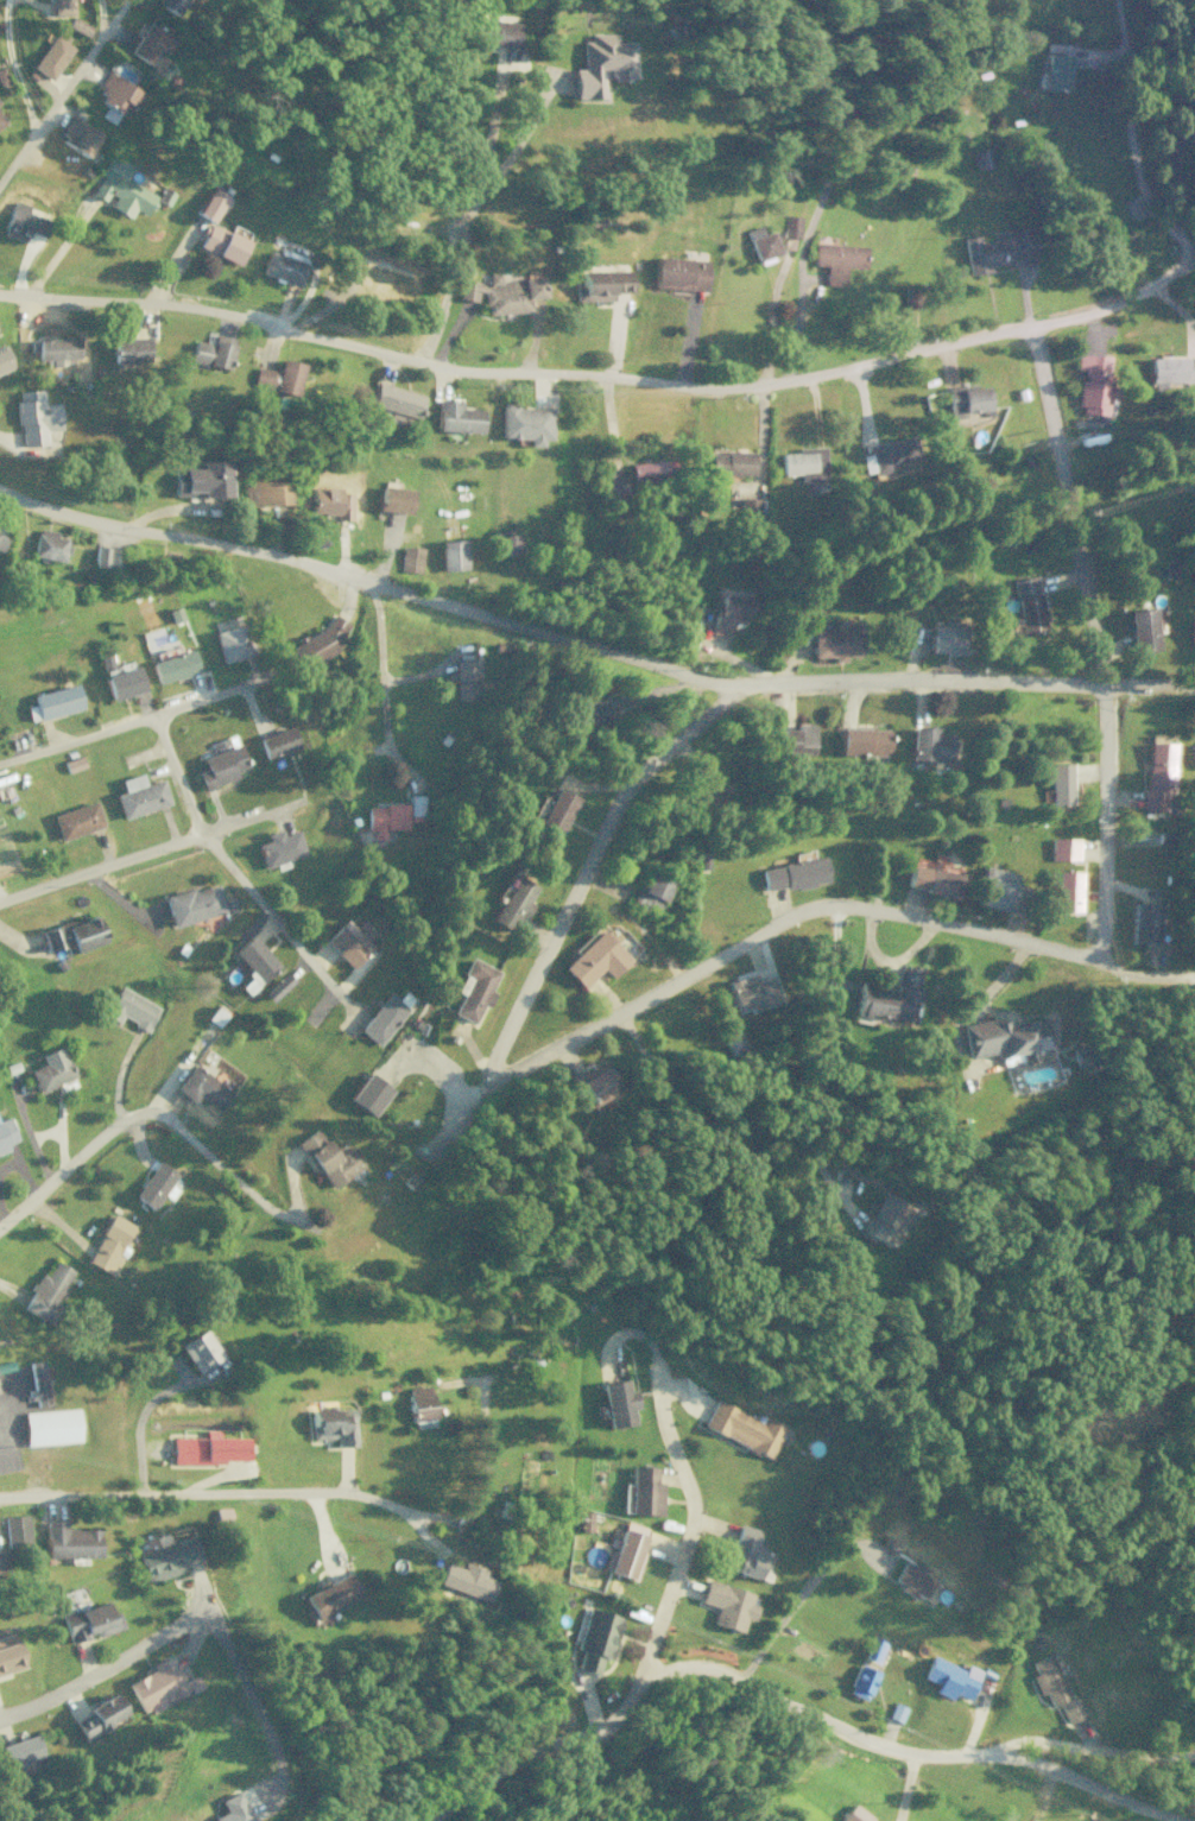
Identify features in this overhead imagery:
building: (170, 4)
building: (61, 7)
road: (100, 13)
building: (78, 26)
building: (495, 32)
building: (148, 43)
building: (51, 56)
building: (602, 64)
road: (10, 67)
building: (1054, 71)
building: (170, 81)
road: (62, 87)
building: (1187, 88)
building: (116, 93)
building: (1, 120)
building: (77, 135)
road: (1127, 139)
building: (120, 189)
building: (210, 204)
road: (466, 214)
building: (23, 222)
building: (790, 226)
building: (223, 242)
building: (760, 242)
building: (998, 248)
building: (836, 259)
road: (1189, 261)
building: (284, 266)
building: (678, 273)
building: (386, 282)
building: (601, 284)
building: (501, 292)
building: (53, 349)
building: (129, 349)
building: (213, 350)
building: (4, 360)
building: (1170, 368)
building: (278, 377)
building: (1093, 382)
road: (597, 384)
building: (962, 396)
building: (396, 403)
building: (34, 417)
building: (455, 417)
building: (525, 423)
building: (886, 454)
building: (732, 462)
building: (804, 463)
building: (655, 470)
building: (201, 480)
building: (261, 492)
building: (393, 499)
building: (615, 499)
building: (330, 501)
building: (750, 508)
building: (2, 538)
building: (506, 543)
building: (49, 545)
building: (451, 554)
building: (106, 557)
building: (410, 558)
building: (1026, 605)
building: (727, 608)
building: (1142, 630)
building: (1191, 633)
building: (944, 639)
road: (1093, 639)
building: (836, 640)
building: (233, 643)
road: (589, 645)
building: (173, 666)
building: (464, 678)
building: (56, 701)
building: (589, 713)
road: (135, 721)
building: (797, 739)
building: (862, 740)
building: (222, 742)
building: (277, 742)
building: (928, 744)
building: (220, 766)
building: (1157, 774)
building: (1058, 783)
building: (139, 795)
building: (557, 810)
building: (392, 816)
building: (76, 820)
building: (278, 847)
road: (152, 848)
road: (587, 864)
road: (229, 867)
building: (792, 873)
building: (931, 880)
building: (994, 889)
building: (1067, 891)
building: (650, 892)
building: (513, 903)
building: (192, 904)
building: (1143, 923)
road: (766, 927)
building: (72, 934)
building: (347, 943)
building: (595, 956)
building: (253, 962)
road: (1143, 976)
building: (277, 986)
building: (474, 988)
building: (752, 992)
building: (889, 997)
building: (131, 1010)
building: (382, 1018)
building: (1005, 1038)
building: (51, 1069)
building: (655, 1082)
building: (202, 1087)
building: (596, 1087)
building: (368, 1094)
road: (158, 1114)
building: (5, 1133)
building: (329, 1158)
building: (154, 1184)
building: (885, 1219)
building: (109, 1245)
building: (46, 1290)
building: (198, 1351)
building: (37, 1383)
building: (618, 1403)
building: (419, 1406)
building: (333, 1424)
building: (50, 1425)
building: (741, 1428)
building: (207, 1448)
building: (643, 1491)
road: (210, 1492)
building: (584, 1520)
road: (688, 1523)
building: (15, 1530)
building: (69, 1541)
building: (624, 1554)
building: (747, 1554)
building: (166, 1558)
building: (1, 1562)
building: (912, 1579)
building: (467, 1580)
building: (330, 1595)
building: (727, 1604)
building: (89, 1621)
building: (595, 1638)
building: (8, 1652)
road: (107, 1667)
road: (693, 1667)
building: (949, 1677)
building: (1048, 1680)
building: (194, 1683)
building: (156, 1686)
building: (1069, 1711)
building: (97, 1716)
road: (1089, 1747)
road: (704, 1750)
building: (20, 1751)
road: (1087, 1782)
building: (232, 1809)
building: (854, 1814)

